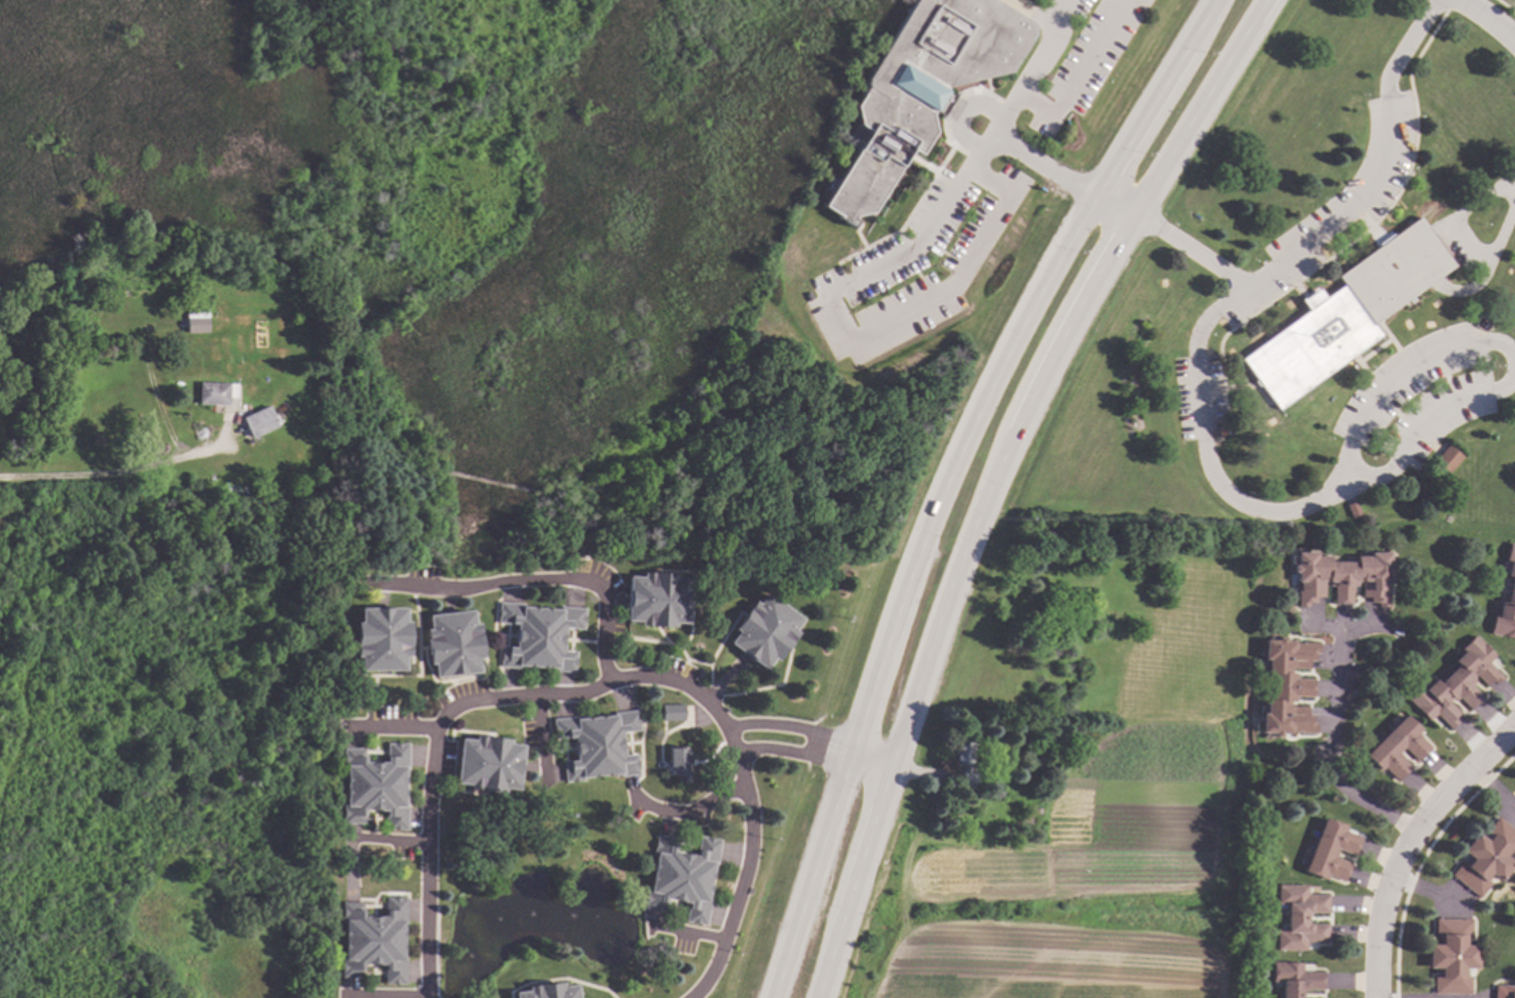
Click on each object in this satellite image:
road: (1488, 19)
road: (1047, 48)
road: (1082, 74)
building: (923, 88)
road: (962, 115)
road: (1023, 151)
road: (1114, 204)
road: (1465, 238)
road: (1191, 251)
building: (1346, 314)
building: (197, 325)
road: (847, 333)
building: (217, 393)
road: (1200, 393)
building: (892, 394)
building: (260, 421)
road: (1428, 421)
building: (1447, 459)
road: (111, 471)
road: (994, 477)
road: (949, 478)
building: (1353, 509)
road: (539, 578)
building: (1342, 578)
building: (657, 599)
building: (1506, 603)
building: (766, 630)
building: (539, 636)
building: (382, 640)
building: (453, 643)
building: (1456, 684)
road: (596, 686)
building: (1287, 687)
building: (671, 712)
road: (397, 726)
road: (812, 732)
road: (541, 733)
building: (597, 744)
building: (1396, 749)
road: (1328, 751)
road: (813, 756)
building: (678, 763)
building: (489, 764)
building: (965, 764)
building: (376, 787)
road: (1492, 790)
building: (998, 794)
road: (689, 811)
building: (1038, 812)
building: (1028, 822)
road: (389, 839)
road: (1408, 843)
building: (1330, 851)
building: (1485, 858)
building: (683, 876)
crop: (1076, 885)
building: (1300, 918)
road: (697, 932)
building: (373, 940)
building: (1451, 957)
building: (1295, 979)
building: (547, 991)
building: (1503, 992)
road: (387, 995)

